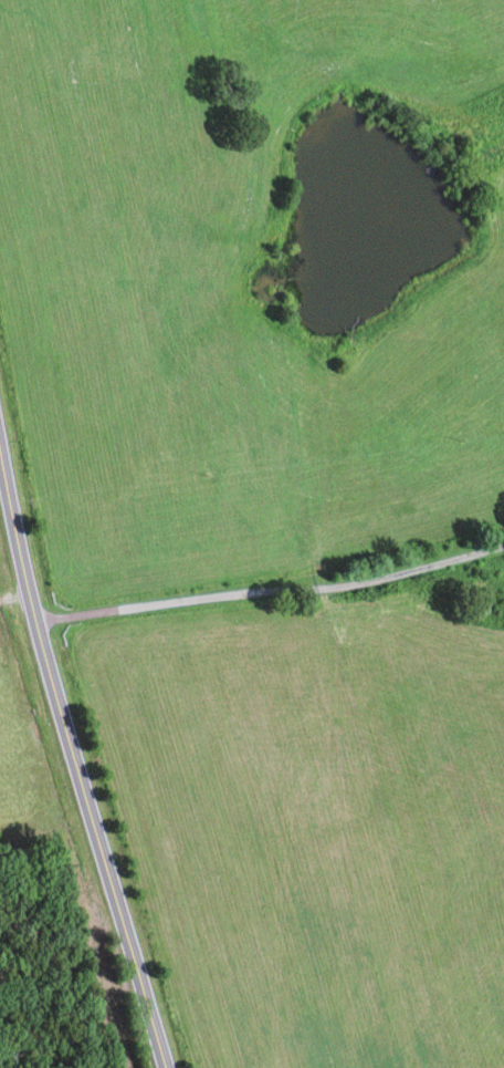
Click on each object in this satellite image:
road: (80, 760)

